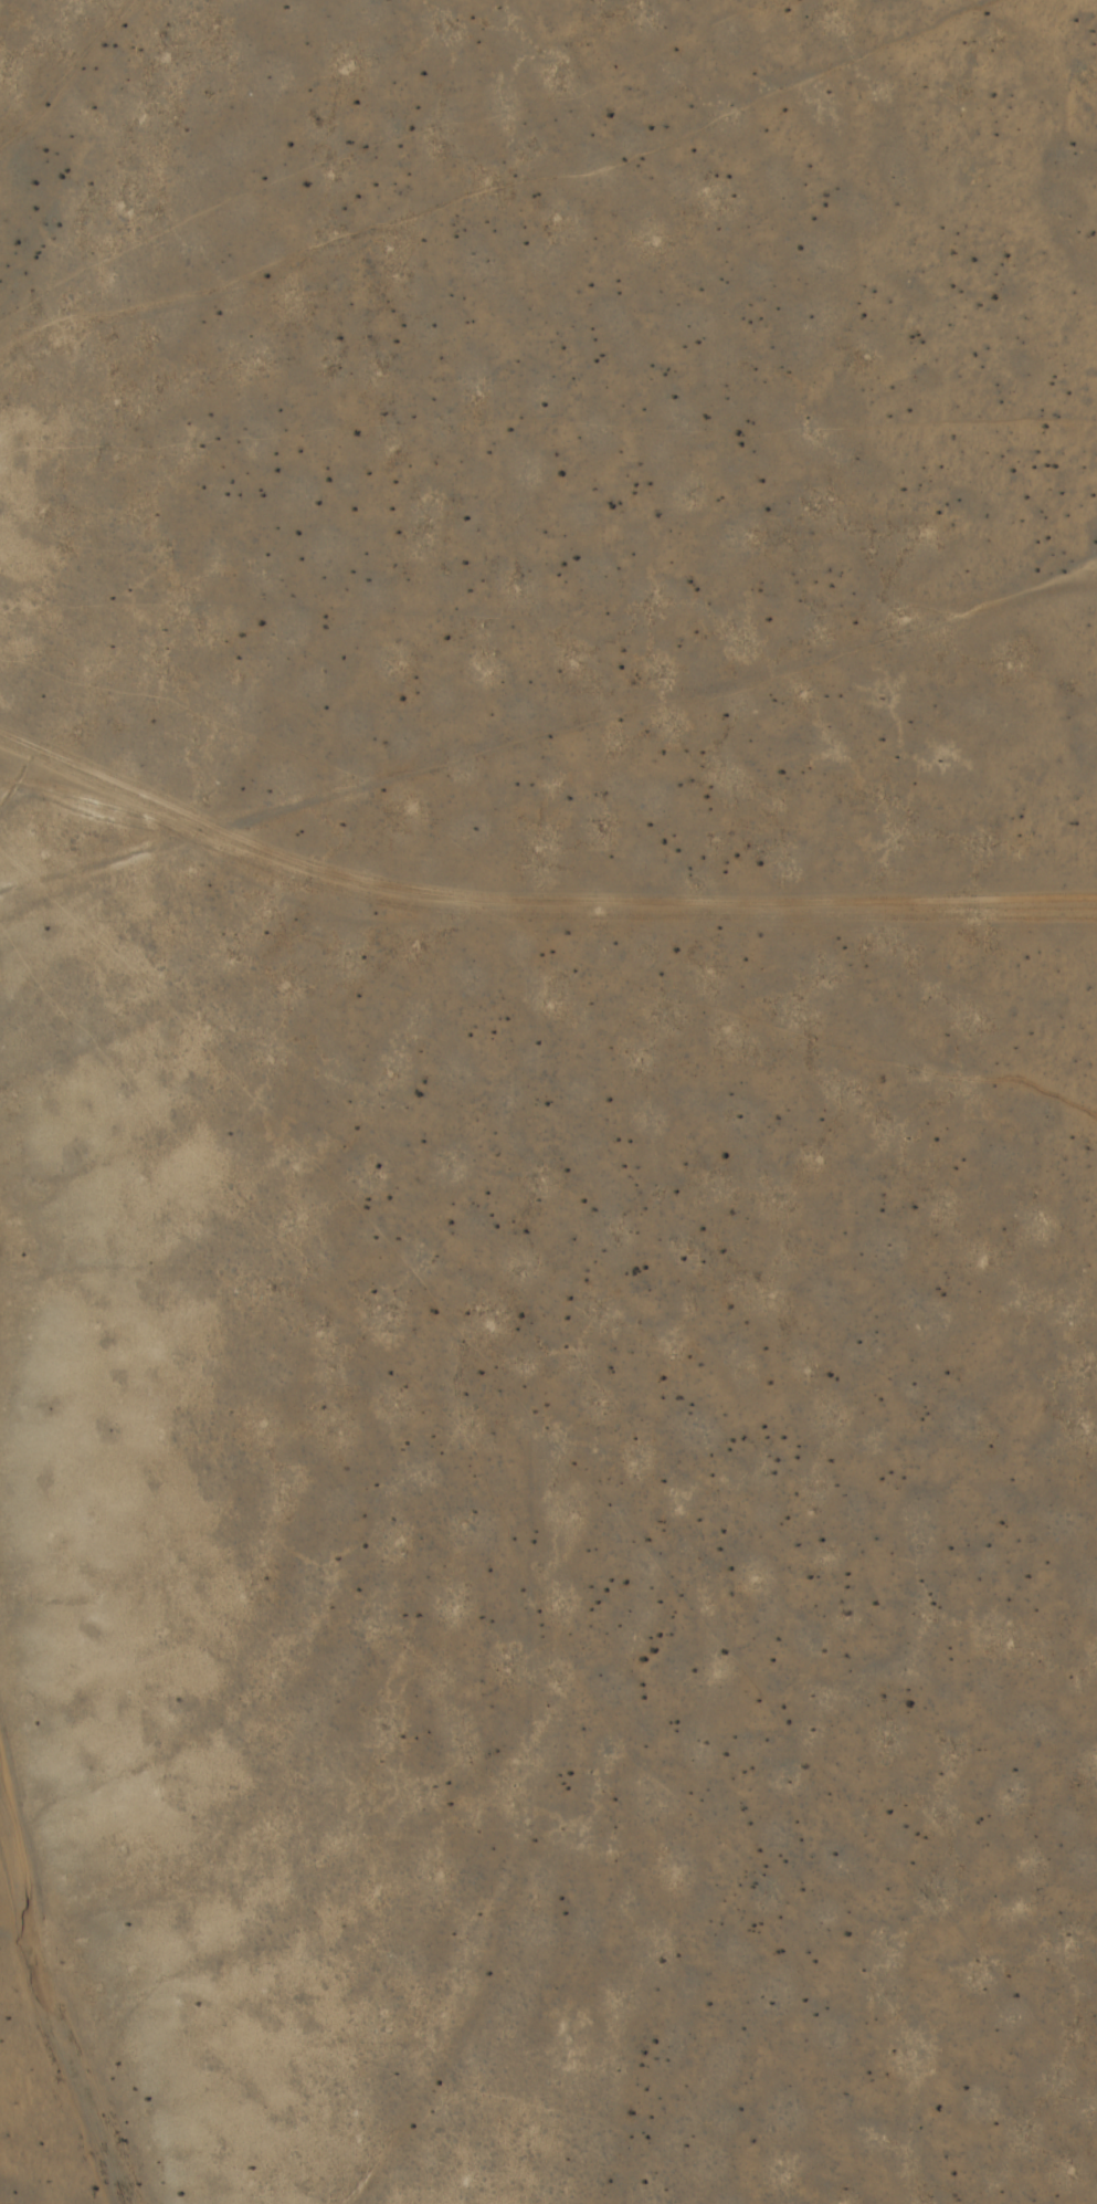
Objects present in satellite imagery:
road: (1079, 12)
road: (538, 896)

